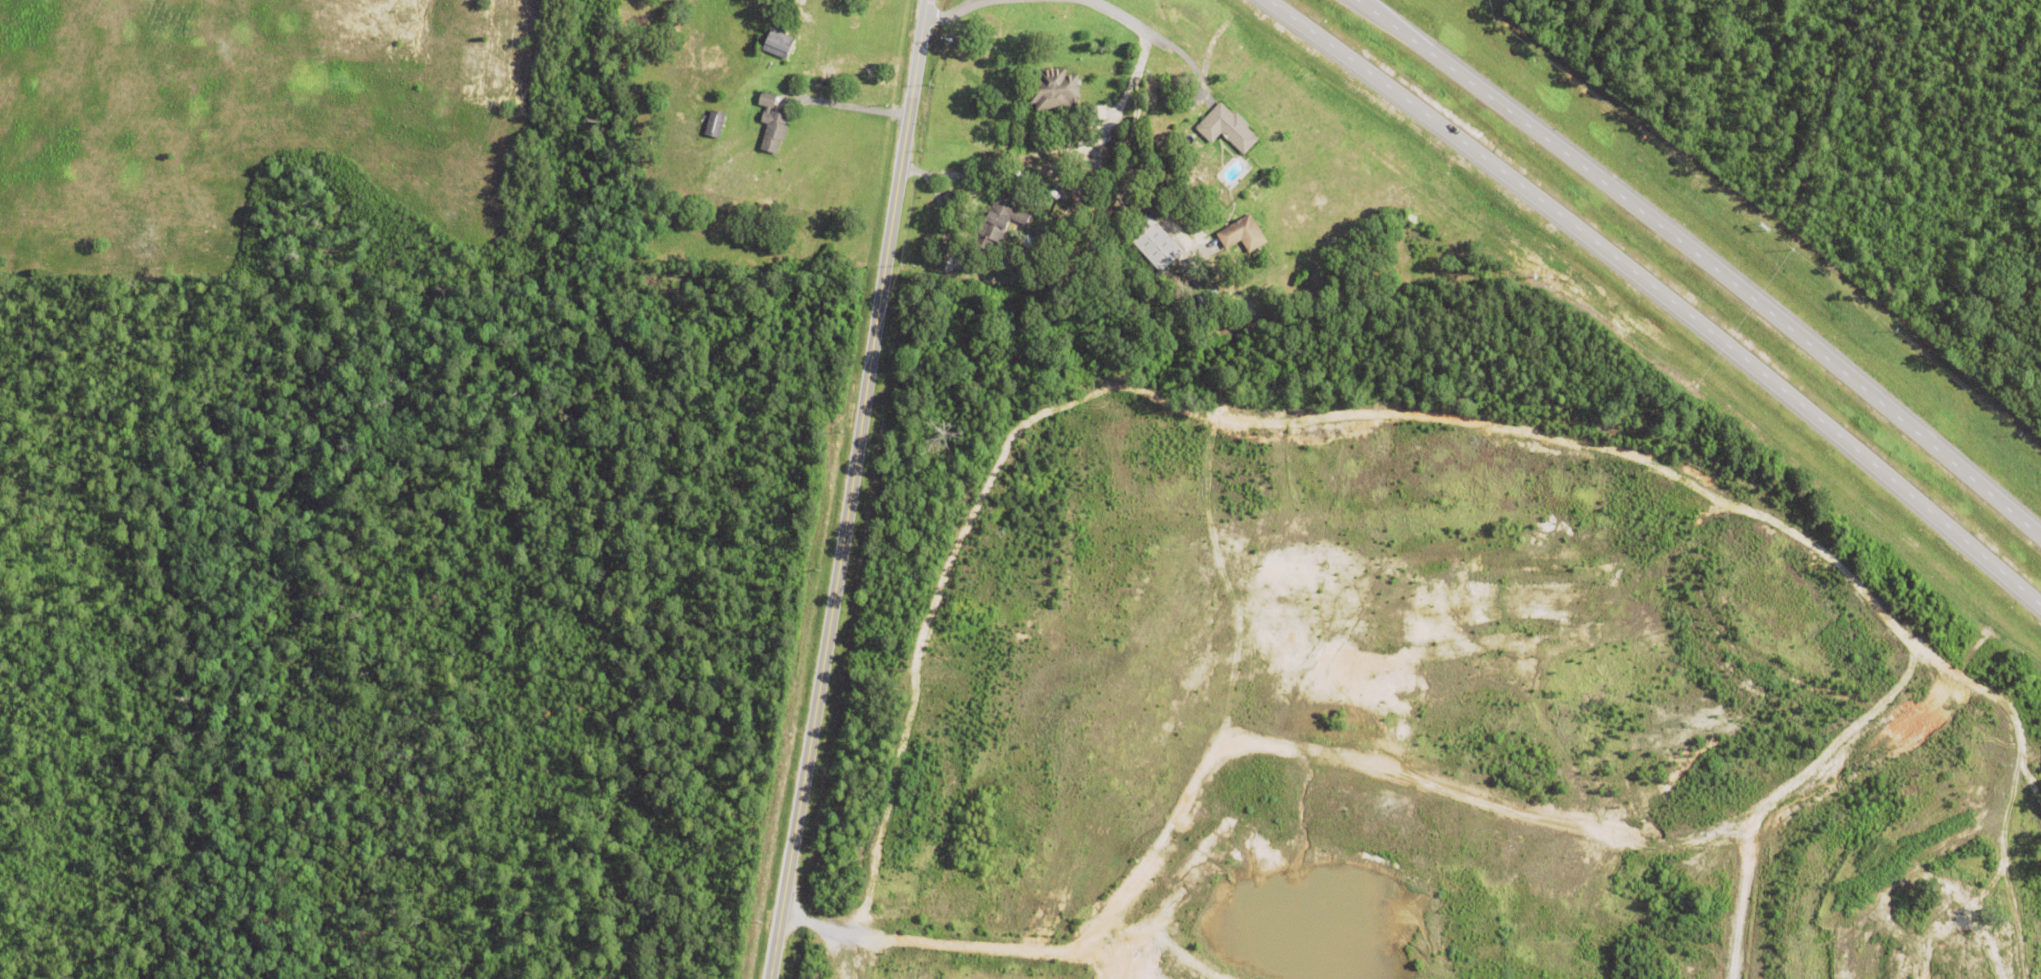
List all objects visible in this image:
road: (956, 13)
building: (778, 41)
road: (1143, 57)
building: (1053, 87)
road: (851, 108)
building: (715, 122)
building: (772, 122)
building: (1227, 126)
building: (1063, 169)
building: (998, 223)
building: (1327, 227)
building: (1241, 235)
building: (1028, 242)
building: (1154, 244)
road: (1702, 261)
road: (1659, 294)
road: (851, 490)

